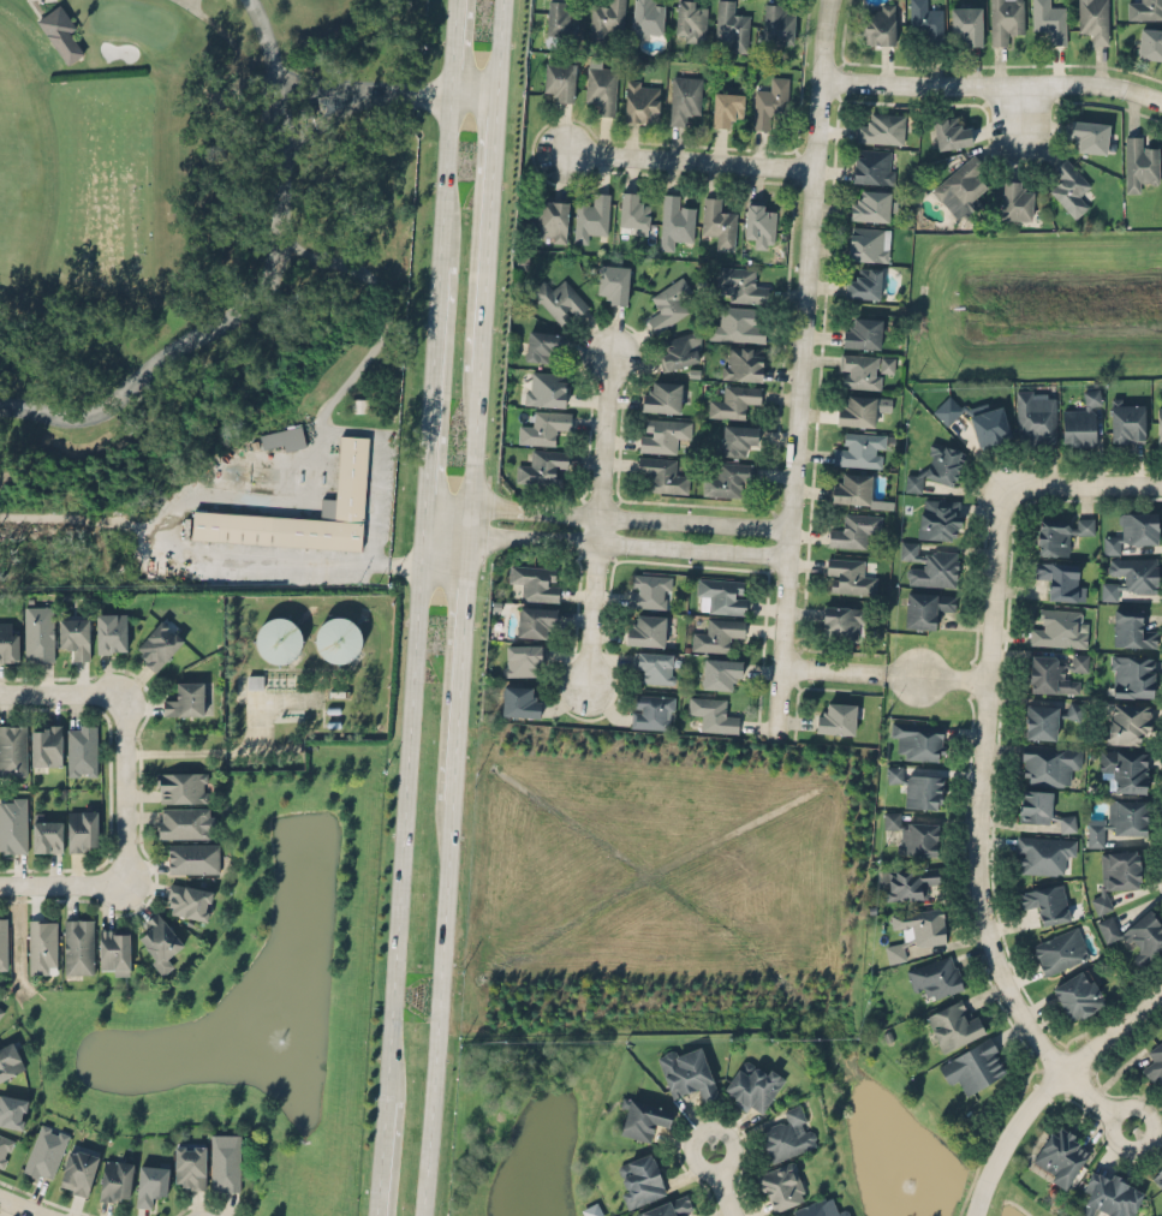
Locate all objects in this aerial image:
building: (1144, 8)
building: (560, 18)
building: (646, 18)
building: (606, 19)
building: (691, 19)
building: (1006, 19)
building: (1049, 19)
building: (1092, 19)
building: (926, 20)
building: (777, 23)
building: (877, 23)
building: (966, 23)
building: (732, 24)
building: (62, 34)
building: (1150, 42)
road: (453, 46)
road: (499, 46)
road: (305, 81)
building: (559, 81)
road: (989, 84)
building: (602, 88)
road: (346, 91)
road: (454, 93)
building: (684, 97)
building: (642, 100)
building: (770, 101)
building: (727, 106)
road: (1018, 107)
road: (318, 121)
building: (881, 127)
building: (951, 132)
building: (1090, 133)
road: (685, 159)
building: (1139, 162)
building: (872, 165)
road: (446, 178)
building: (960, 185)
building: (1069, 186)
building: (1017, 198)
building: (870, 204)
building: (632, 211)
building: (590, 216)
building: (549, 220)
building: (674, 220)
building: (717, 222)
building: (761, 223)
road: (488, 231)
building: (868, 242)
building: (613, 282)
building: (864, 282)
building: (741, 284)
park: (203, 292)
road: (262, 294)
building: (559, 298)
building: (668, 304)
building: (738, 324)
building: (862, 330)
building: (542, 344)
building: (681, 348)
building: (743, 362)
road: (800, 365)
building: (862, 369)
building: (546, 387)
building: (662, 395)
road: (433, 399)
building: (733, 400)
building: (359, 404)
building: (860, 409)
building: (947, 409)
building: (1035, 417)
building: (1080, 419)
building: (1126, 421)
building: (990, 424)
building: (1158, 424)
building: (544, 425)
building: (662, 433)
building: (738, 436)
building: (284, 437)
road: (477, 437)
building: (859, 448)
building: (943, 463)
building: (351, 465)
building: (542, 466)
building: (662, 472)
building: (728, 477)
building: (912, 482)
road: (1083, 485)
building: (852, 487)
road: (227, 503)
road: (608, 517)
building: (938, 517)
road: (592, 519)
building: (1083, 524)
building: (853, 529)
building: (1132, 529)
building: (1053, 536)
road: (608, 546)
building: (929, 565)
building: (848, 574)
building: (1130, 574)
building: (1061, 579)
building: (535, 580)
building: (650, 590)
building: (720, 595)
building: (925, 607)
building: (535, 619)
building: (842, 621)
building: (1059, 627)
building: (1131, 627)
building: (645, 630)
building: (40, 632)
building: (112, 632)
building: (716, 633)
building: (75, 634)
building: (339, 638)
building: (8, 639)
building: (279, 639)
building: (157, 644)
road: (459, 651)
building: (522, 658)
building: (1079, 660)
building: (655, 666)
building: (720, 672)
road: (884, 674)
building: (1048, 674)
building: (1132, 674)
building: (252, 680)
road: (58, 692)
building: (185, 698)
building: (520, 701)
building: (1074, 709)
building: (651, 710)
building: (713, 713)
building: (836, 717)
building: (1041, 720)
building: (1127, 721)
building: (917, 738)
building: (46, 744)
building: (13, 749)
building: (82, 749)
road: (210, 753)
building: (1050, 762)
building: (1124, 768)
building: (181, 786)
building: (917, 787)
road: (118, 788)
building: (1042, 809)
road: (405, 816)
building: (1118, 819)
building: (185, 822)
building: (13, 823)
building: (82, 829)
building: (47, 833)
building: (912, 833)
road: (978, 833)
building: (1042, 852)
building: (193, 857)
building: (1120, 868)
building: (907, 881)
road: (60, 884)
building: (187, 900)
building: (1045, 901)
building: (1101, 902)
building: (916, 930)
building: (1136, 932)
building: (159, 941)
building: (4, 942)
building: (43, 944)
building: (78, 946)
building: (114, 950)
building: (1060, 950)
building: (936, 976)
building: (1078, 994)
road: (439, 1007)
building: (1, 1011)
building: (953, 1024)
building: (8, 1060)
building: (1155, 1063)
building: (973, 1065)
building: (687, 1071)
building: (753, 1085)
road: (1044, 1086)
building: (12, 1109)
building: (643, 1117)
road: (993, 1123)
building: (788, 1133)
building: (5, 1146)
building: (46, 1151)
building: (1060, 1155)
road: (381, 1156)
building: (225, 1162)
building: (190, 1166)
building: (78, 1169)
fountain: (902, 1174)
building: (1157, 1176)
building: (115, 1180)
building: (640, 1180)
building: (151, 1182)
road: (721, 1182)
building: (781, 1185)
building: (1110, 1193)
road: (24, 1205)
building: (667, 1206)
building: (592, 1209)
building: (826, 1210)

